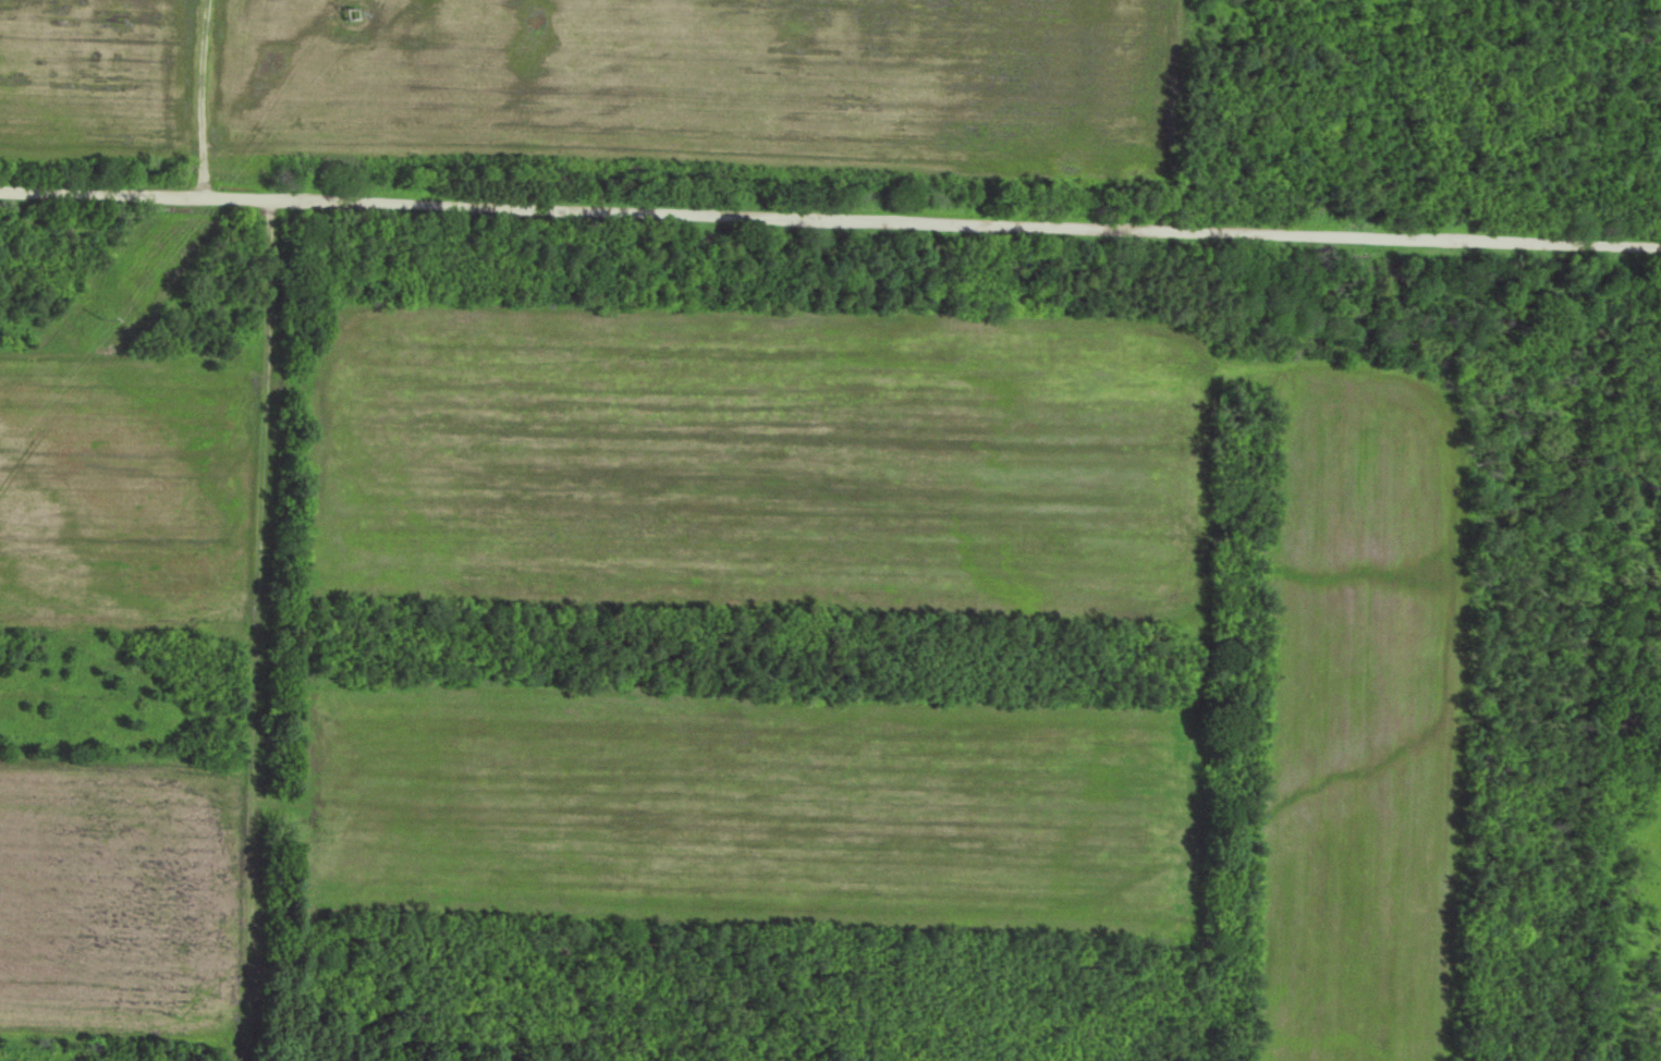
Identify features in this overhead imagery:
road: (830, 208)

